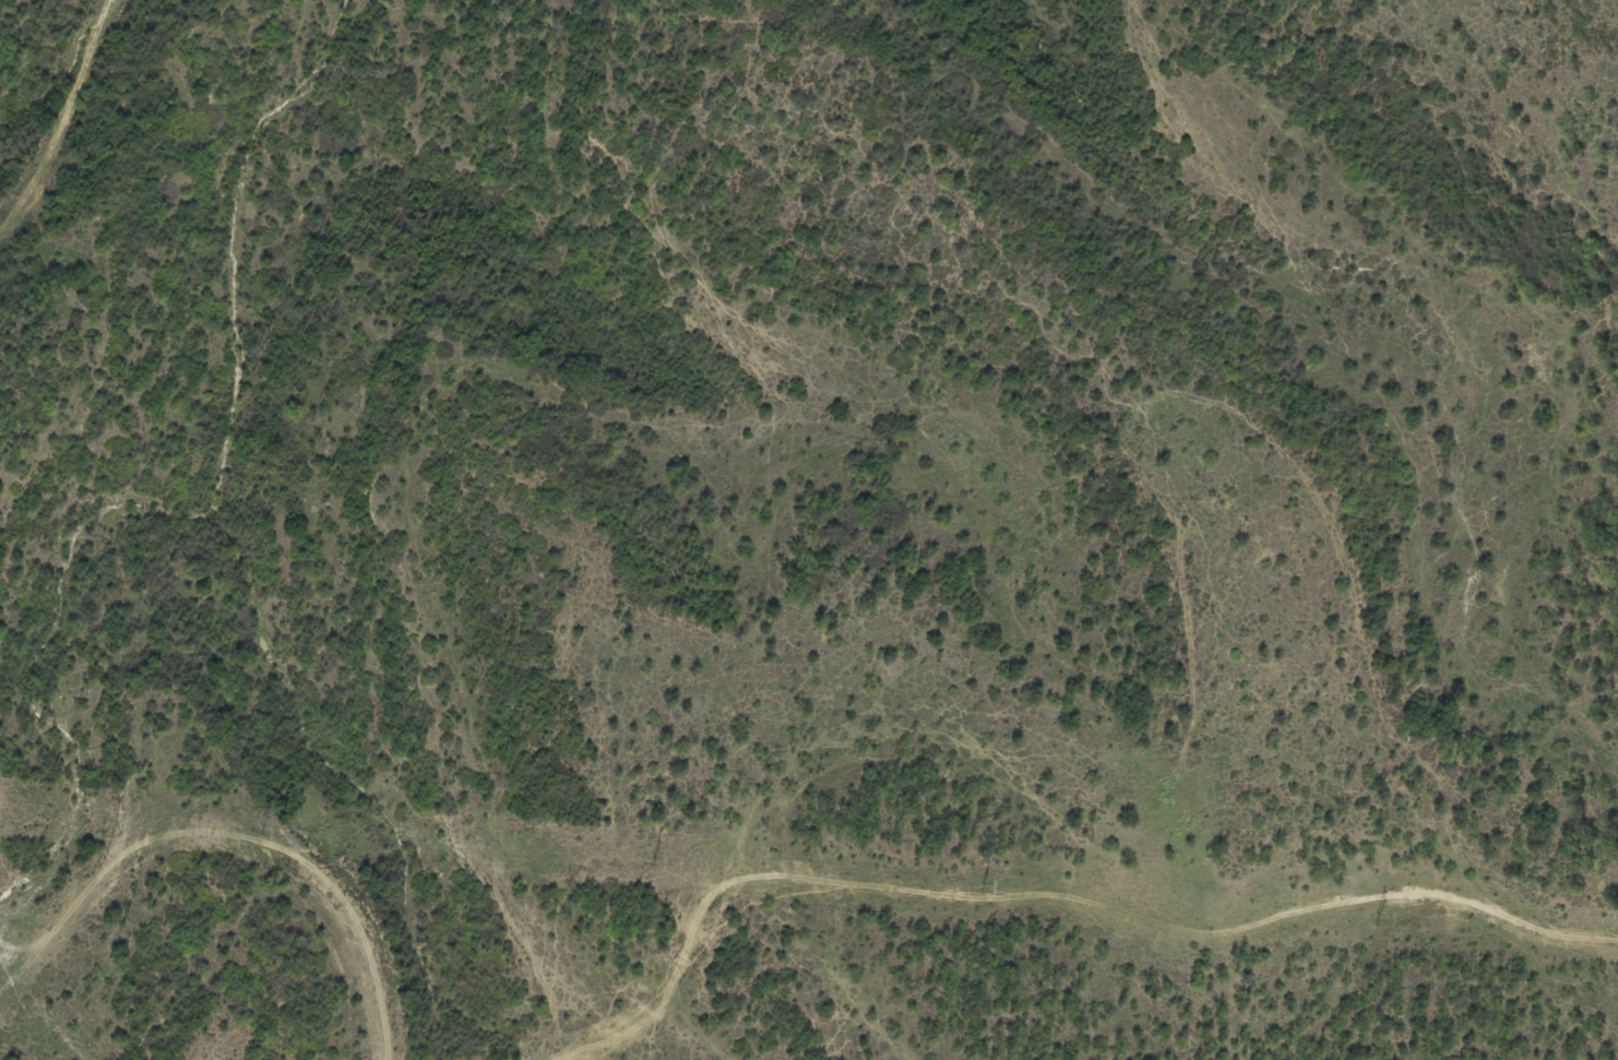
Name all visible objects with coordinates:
power tower: (262, 829)
power tower: (653, 861)
power tower: (983, 888)
power tower: (1377, 919)

